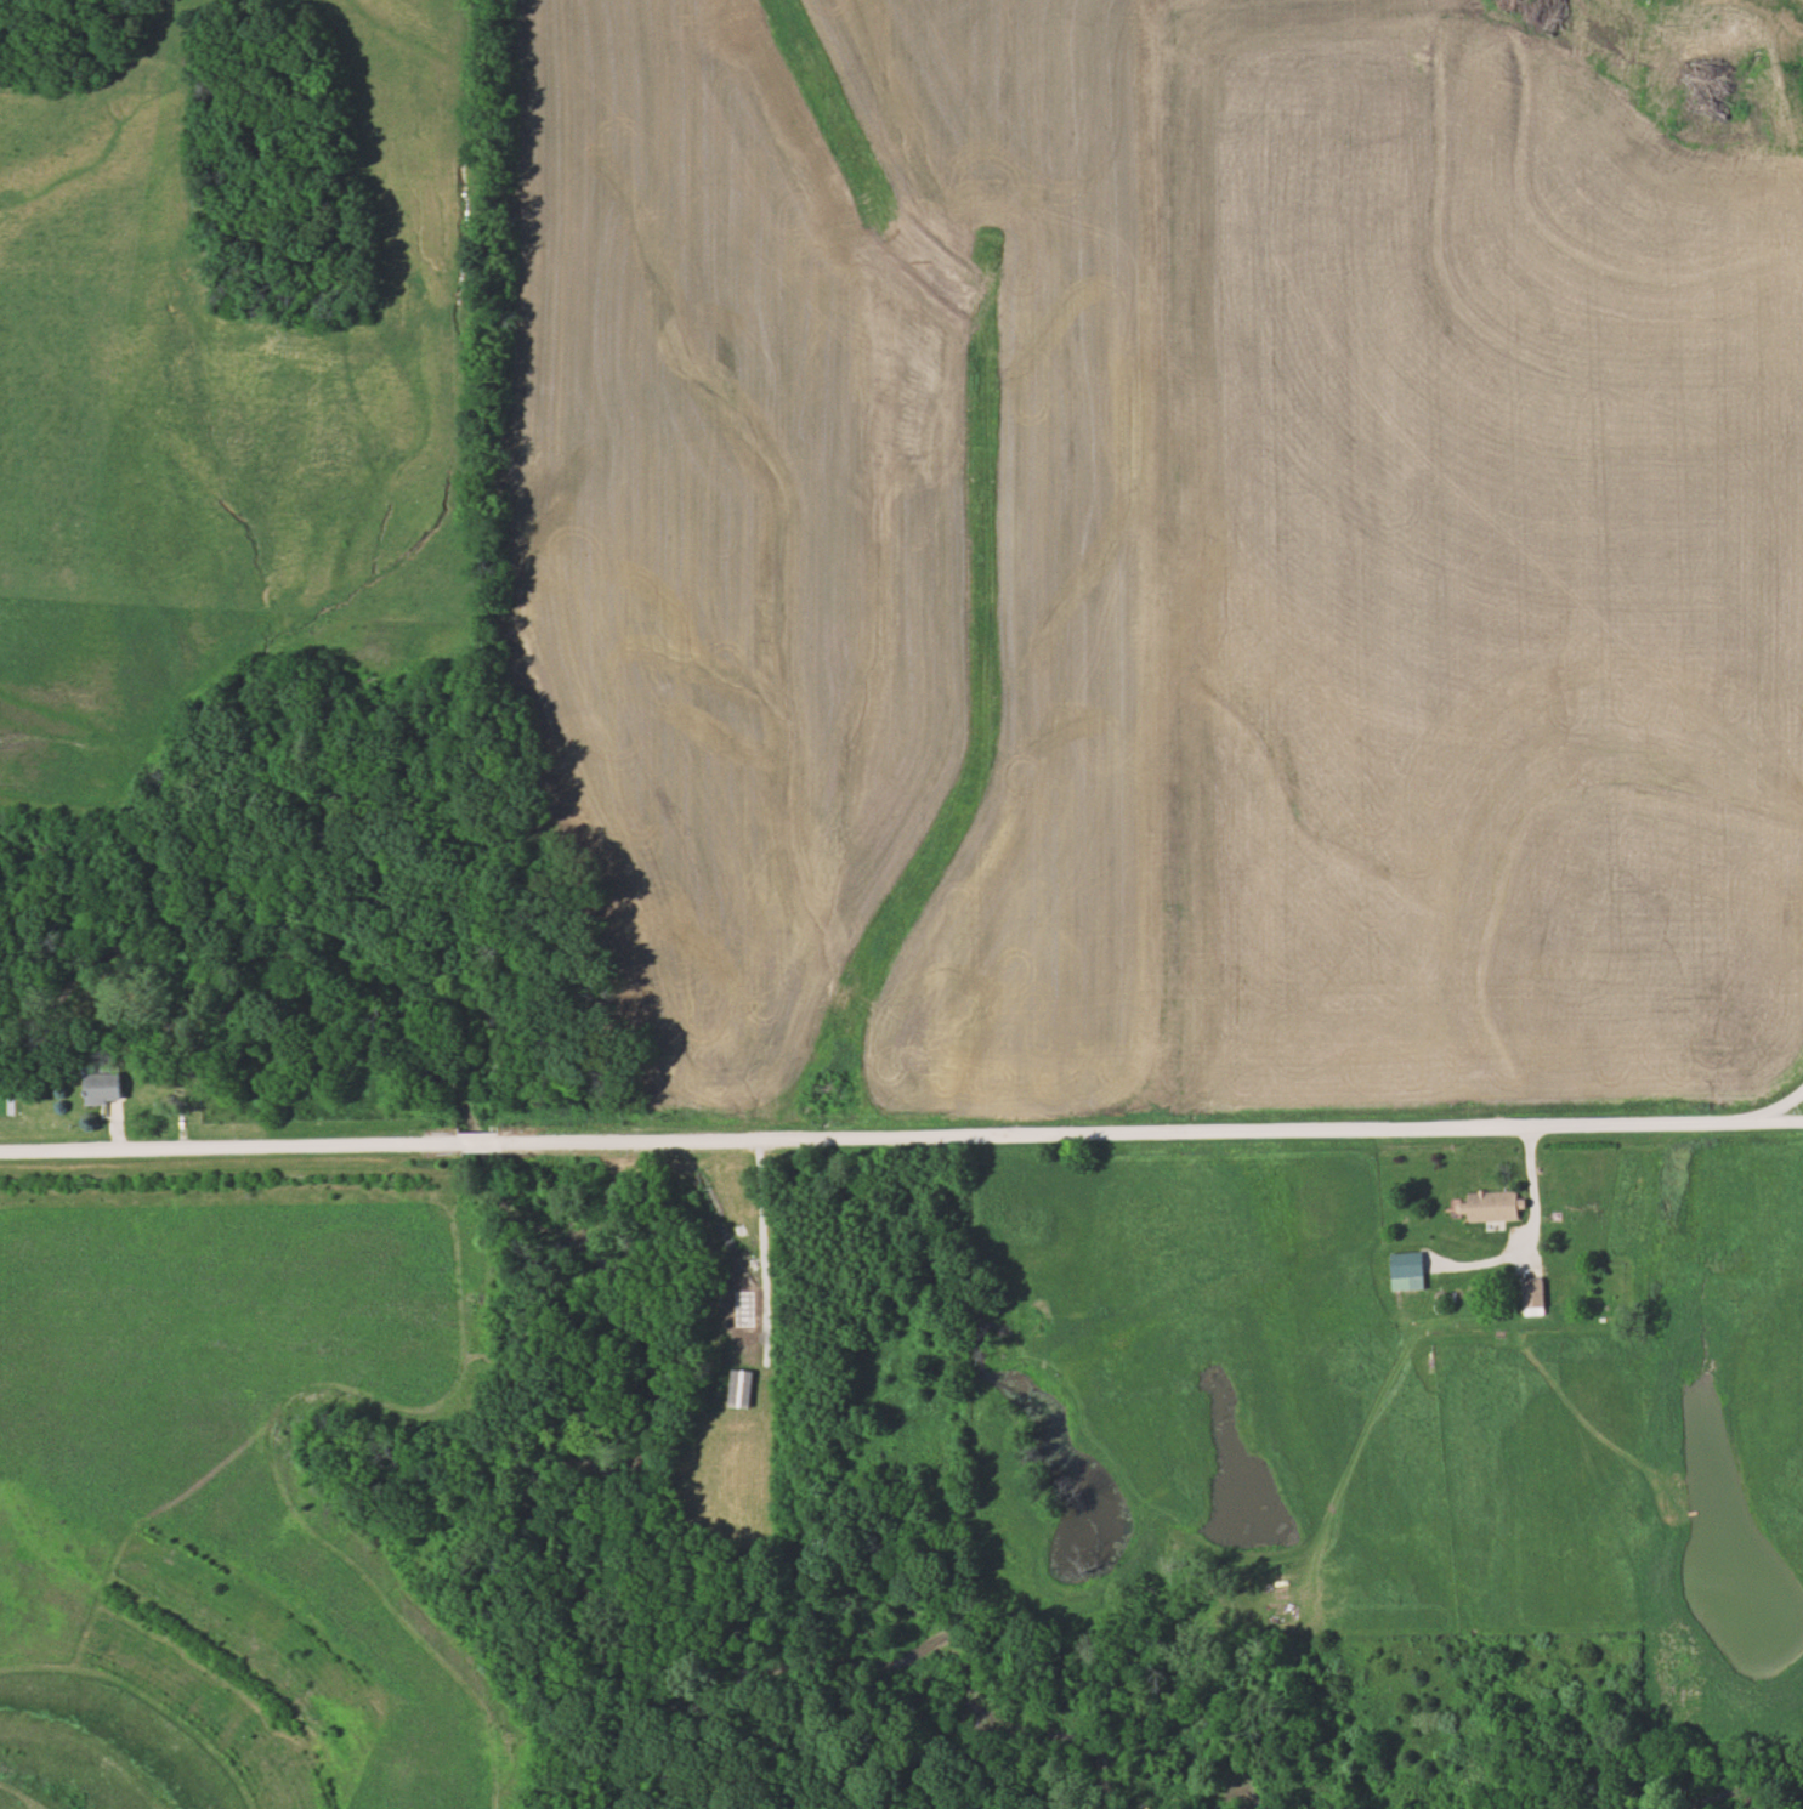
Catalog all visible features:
building: (108, 1088)
road: (1770, 1108)
road: (1802, 1122)
road: (900, 1132)
building: (1485, 1204)
road: (1535, 1221)
road: (759, 1230)
building: (1400, 1270)
building: (1527, 1293)

